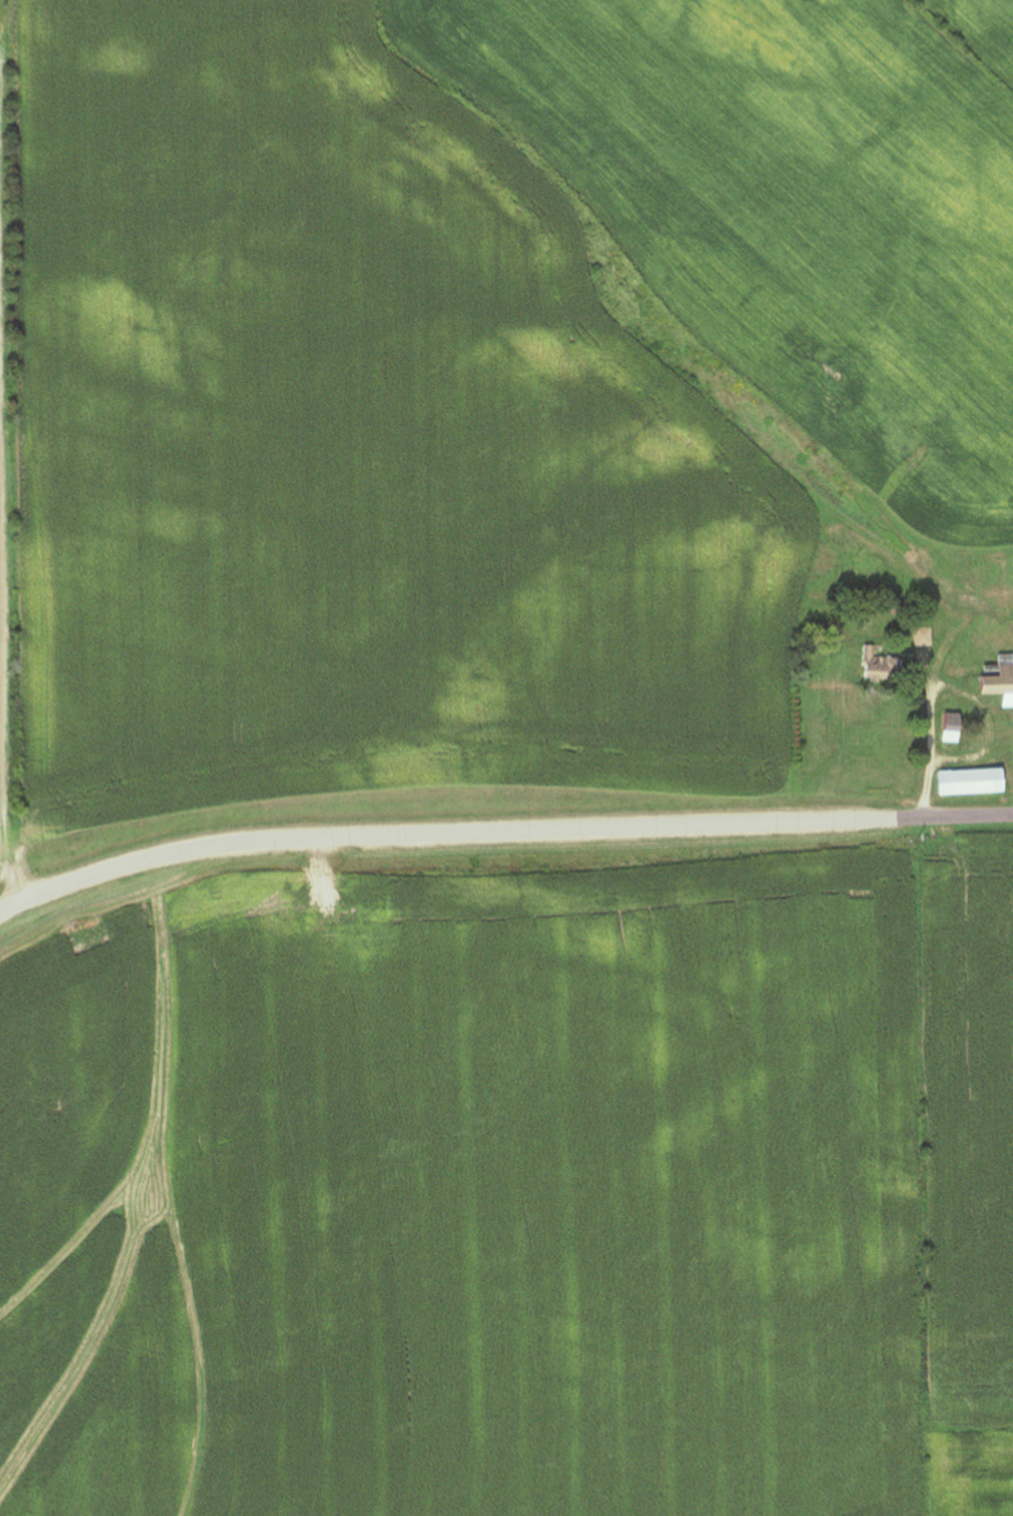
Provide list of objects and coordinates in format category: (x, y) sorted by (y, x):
building: (881, 666)
building: (1001, 681)
building: (954, 729)
road: (935, 732)
building: (973, 783)
road: (500, 822)

